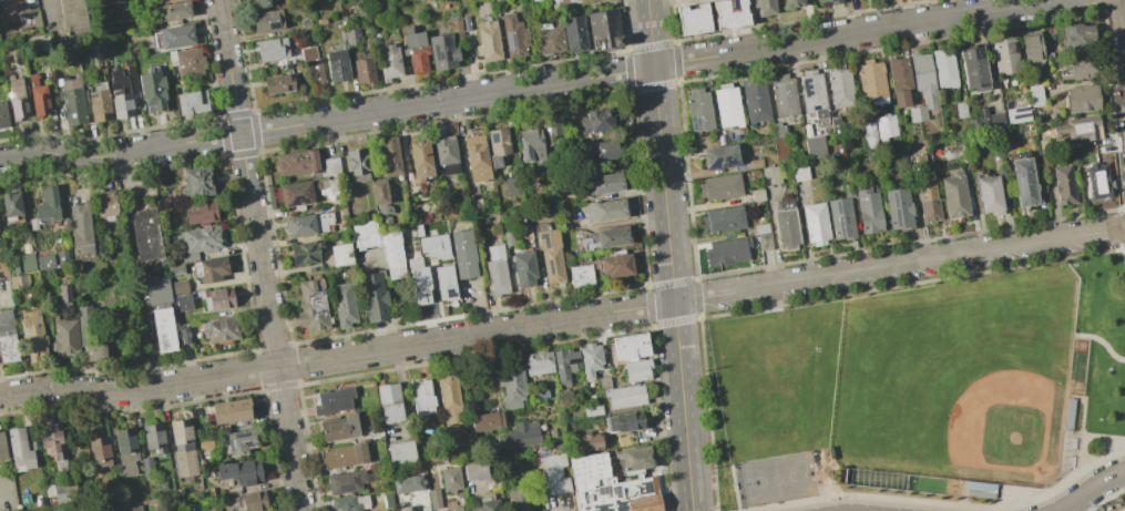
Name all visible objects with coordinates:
building: (1, 0)
building: (162, 0)
building: (531, 0)
building: (572, 0)
building: (818, 0)
building: (554, 1)
building: (835, 1)
building: (262, 2)
building: (791, 3)
building: (764, 7)
road: (50, 10)
building: (171, 10)
building: (729, 13)
building: (72, 14)
building: (27, 19)
building: (692, 19)
building: (266, 20)
building: (464, 23)
building: (305, 24)
building: (453, 24)
rooftop solar panel: (273, 25)
building: (603, 29)
road: (1122, 30)
building: (574, 33)
building: (351, 34)
building: (513, 34)
building: (1077, 35)
building: (173, 37)
building: (549, 38)
building: (488, 41)
building: (38, 42)
rooftop solar panel: (510, 42)
rooftop solar panel: (444, 43)
building: (1031, 47)
building: (272, 49)
building: (415, 49)
building: (441, 51)
building: (1005, 55)
building: (171, 57)
rooftop solar panel: (437, 57)
rooftop solar panel: (447, 58)
building: (388, 60)
building: (188, 61)
building: (311, 62)
building: (336, 65)
building: (362, 68)
building: (1077, 68)
building: (944, 69)
building: (973, 69)
building: (899, 80)
building: (870, 82)
building: (278, 83)
building: (922, 85)
road: (526, 86)
building: (839, 89)
building: (152, 91)
building: (812, 93)
building: (1035, 94)
building: (783, 95)
building: (17, 96)
building: (38, 96)
building: (1081, 99)
building: (71, 100)
building: (192, 102)
building: (755, 102)
building: (121, 103)
building: (99, 105)
building: (727, 105)
building: (698, 108)
building: (960, 110)
building: (1016, 114)
building: (2, 115)
building: (978, 116)
building: (994, 119)
building: (594, 122)
building: (554, 124)
building: (886, 125)
rooftop solar panel: (697, 126)
building: (1077, 127)
building: (778, 129)
building: (867, 134)
rooftop solar panel: (494, 139)
building: (497, 145)
building: (530, 145)
building: (814, 146)
building: (780, 147)
building: (600, 151)
building: (446, 154)
building: (477, 155)
building: (718, 155)
building: (389, 156)
building: (419, 159)
building: (296, 162)
building: (755, 163)
building: (356, 164)
building: (917, 164)
building: (329, 166)
building: (799, 172)
building: (770, 175)
building: (1097, 181)
building: (196, 182)
building: (1023, 182)
building: (331, 183)
building: (602, 183)
building: (513, 184)
building: (1063, 185)
building: (719, 186)
rooftop solar panel: (1021, 187)
building: (299, 192)
building: (379, 195)
building: (954, 195)
building: (989, 195)
rooftop solar panel: (297, 200)
building: (105, 203)
rooftop solar panel: (894, 203)
building: (11, 204)
building: (47, 204)
building: (928, 204)
building: (474, 206)
building: (868, 208)
building: (898, 208)
building: (604, 209)
building: (201, 212)
building: (840, 214)
building: (723, 218)
building: (32, 223)
building: (814, 223)
building: (307, 224)
building: (785, 224)
building: (80, 227)
building: (760, 228)
building: (145, 234)
building: (610, 236)
building: (202, 238)
building: (508, 238)
rooftop solar panel: (545, 242)
building: (764, 242)
building: (433, 245)
building: (390, 249)
building: (725, 252)
building: (304, 253)
building: (462, 253)
building: (340, 254)
road: (259, 255)
building: (550, 255)
road: (669, 255)
building: (62, 256)
building: (187, 256)
rooftop solar panel: (295, 259)
building: (27, 260)
building: (44, 262)
building: (615, 265)
rooftop solar panel: (550, 267)
building: (209, 268)
building: (523, 268)
building: (175, 269)
building: (495, 270)
building: (580, 275)
building: (19, 280)
building: (418, 280)
building: (444, 283)
building: (178, 286)
building: (155, 290)
building: (64, 295)
building: (372, 296)
building: (219, 297)
building: (183, 302)
building: (342, 305)
building: (311, 306)
road: (562, 320)
building: (84, 323)
building: (163, 329)
building: (219, 330)
building: (183, 333)
building: (64, 337)
building: (7, 338)
building: (32, 338)
road: (1101, 341)
building: (630, 346)
building: (92, 351)
building: (590, 358)
building: (538, 362)
building: (564, 364)
building: (636, 369)
park: (775, 379)
park: (957, 379)
building: (511, 386)
building: (542, 394)
building: (625, 396)
building: (421, 398)
building: (448, 399)
building: (333, 400)
building: (389, 402)
building: (229, 410)
building: (592, 410)
building: (485, 420)
building: (624, 421)
building: (338, 427)
building: (520, 435)
road: (1081, 436)
building: (153, 437)
road: (1106, 438)
building: (238, 441)
building: (587, 442)
building: (51, 443)
rooftop solar panel: (248, 443)
rooftop solar panel: (231, 446)
building: (1, 447)
building: (182, 448)
building: (19, 450)
building: (125, 450)
building: (99, 451)
building: (400, 451)
building: (342, 454)
building: (634, 457)
building: (146, 468)
building: (474, 470)
building: (241, 472)
building: (552, 473)
building: (450, 478)
park: (777, 479)
building: (345, 481)
building: (407, 482)
building: (610, 488)
road: (1092, 490)
building: (61, 491)
building: (434, 498)
building: (250, 500)
building: (39, 501)
building: (386, 501)
building: (348, 502)
building: (518, 504)
building: (490, 505)
building: (130, 508)
building: (402, 508)
building: (456, 508)
building: (213, 509)
building: (53, 510)

